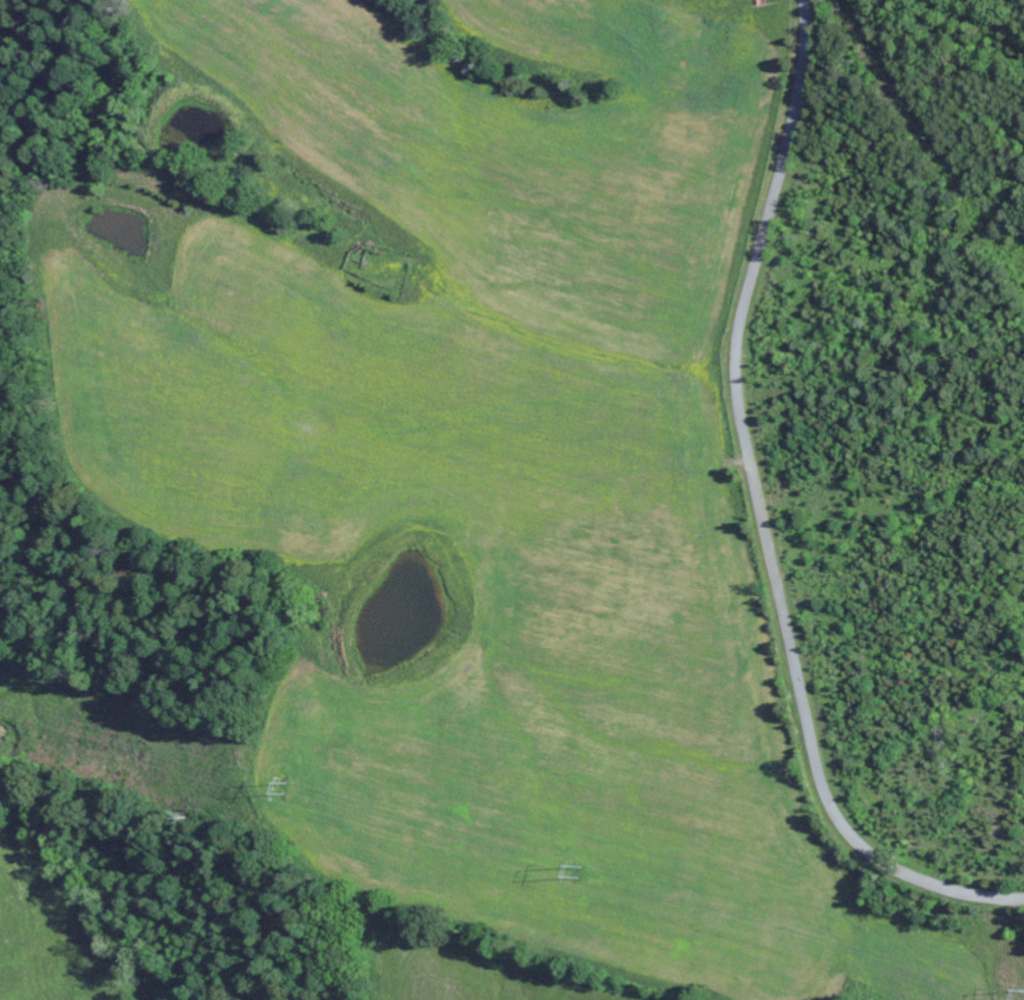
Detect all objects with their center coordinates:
road: (763, 512)
power tower: (286, 790)
power tower: (581, 873)

